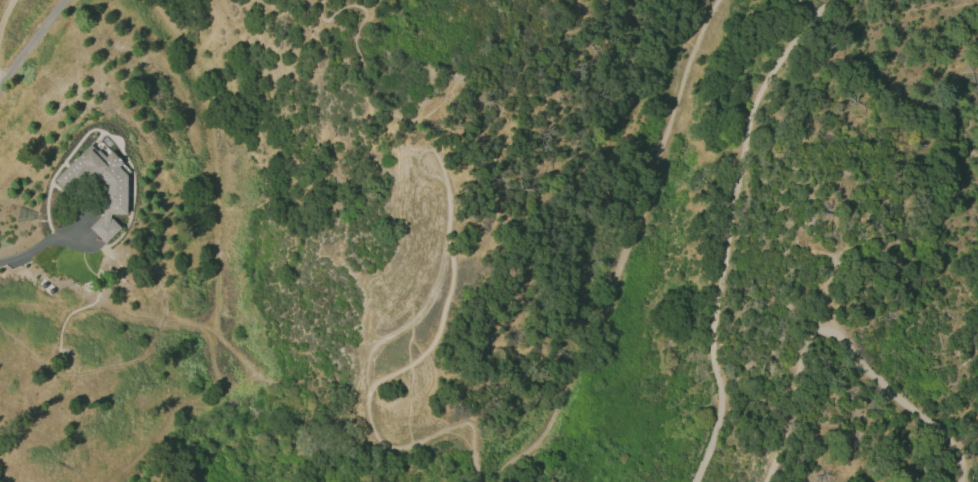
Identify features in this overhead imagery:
road: (30, 40)
road: (420, 151)
building: (115, 189)
road: (732, 230)
road: (45, 242)
road: (625, 251)
road: (420, 313)
road: (842, 338)
road: (383, 379)

